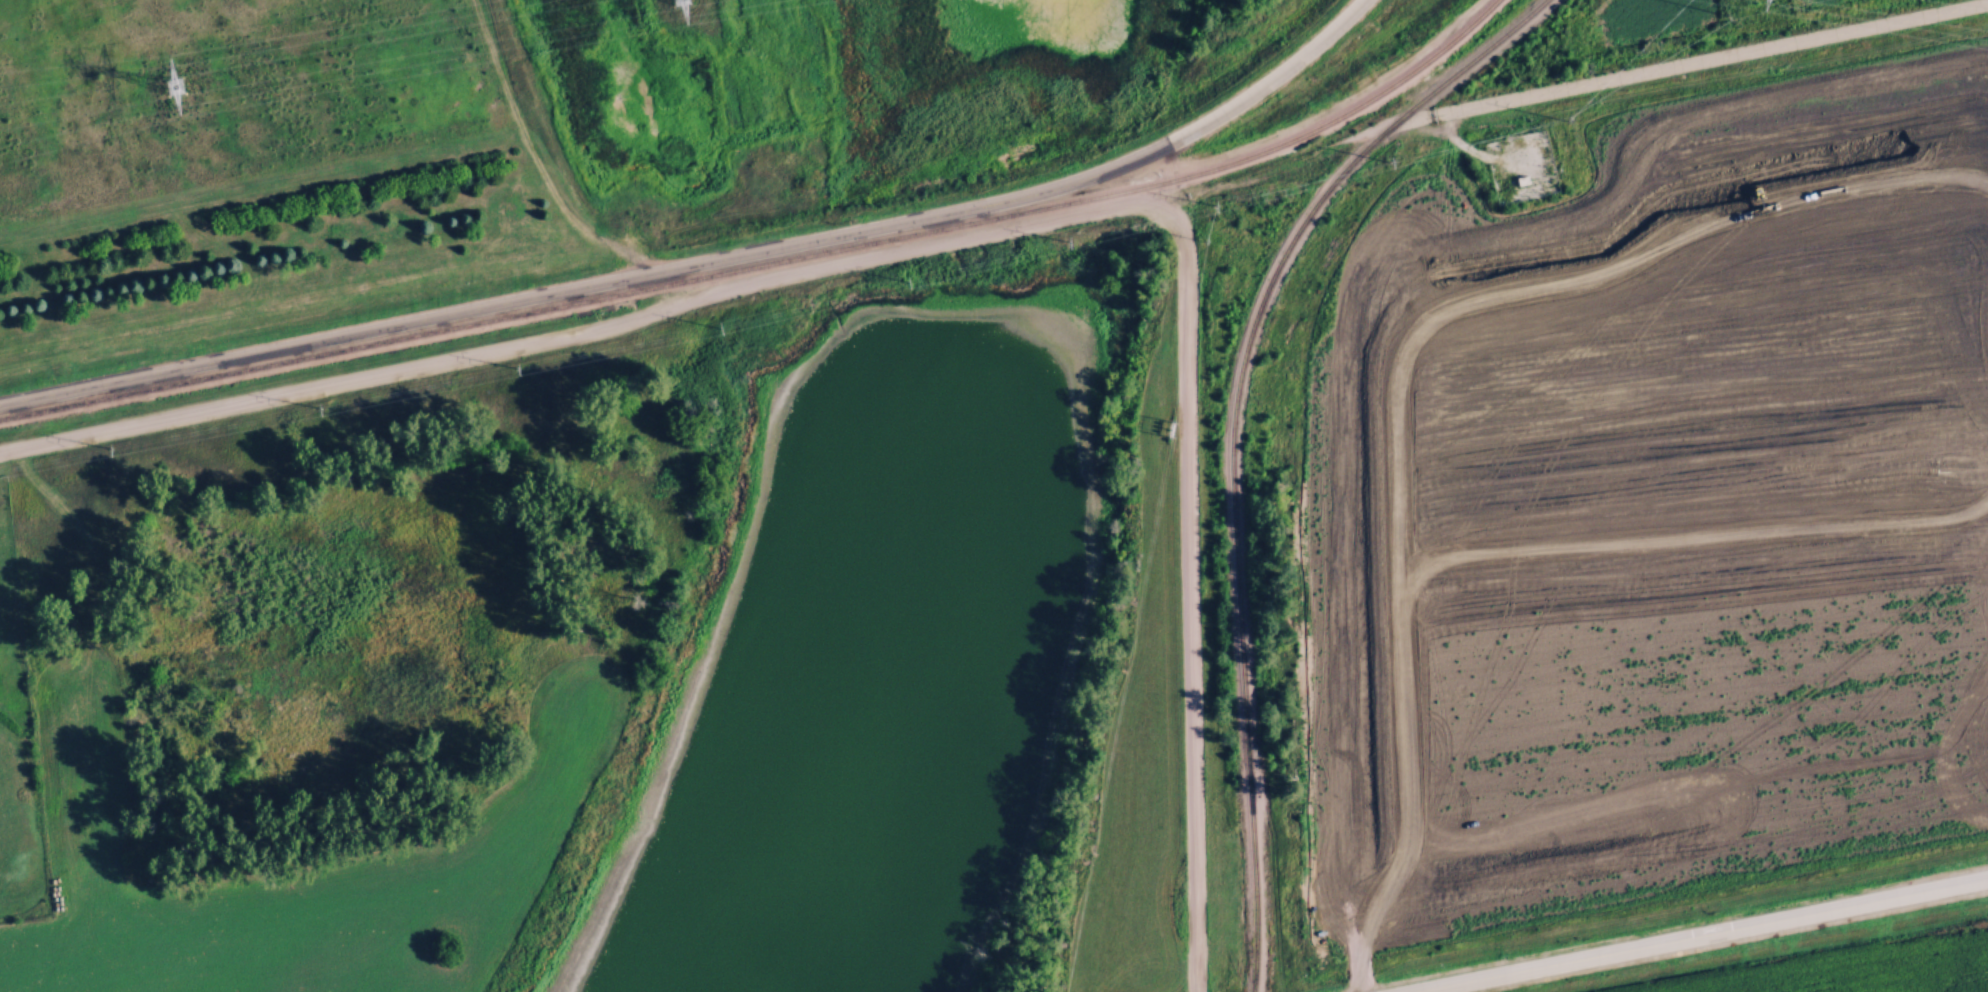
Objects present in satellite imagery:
power tower: (678, 1)
road: (1711, 61)
power tower: (169, 85)
power tower: (1569, 118)
power tower: (1389, 160)
power tower: (1214, 203)
power tower: (1068, 239)
road: (703, 259)
railway: (767, 265)
power tower: (908, 274)
power tower: (716, 324)
road: (583, 332)
power tower: (519, 366)
power tower: (318, 406)
railway: (1234, 433)
power tower: (109, 448)
road: (1190, 593)
road: (1697, 934)

